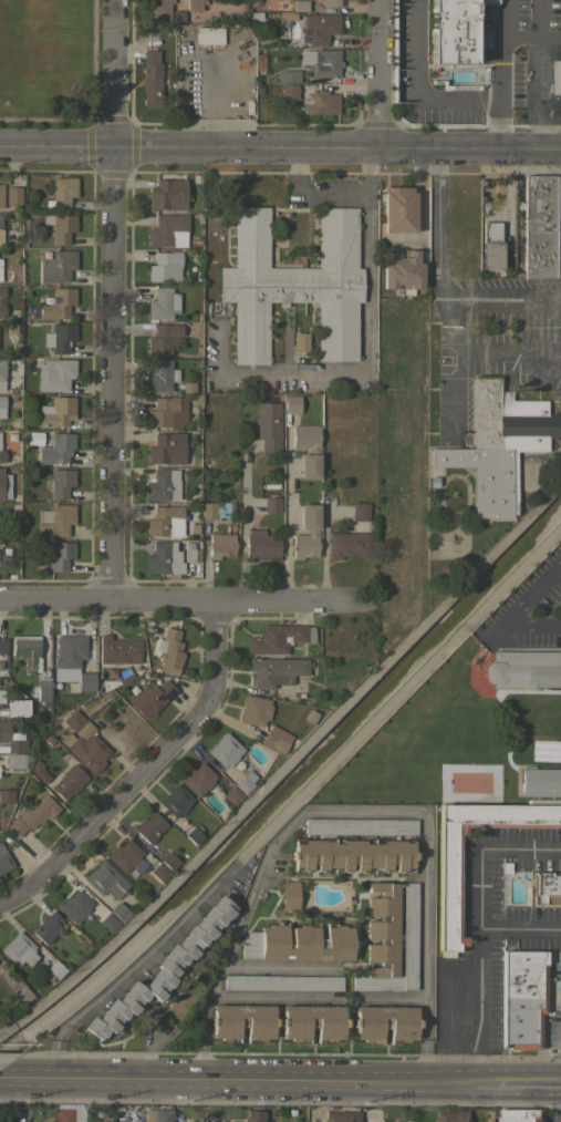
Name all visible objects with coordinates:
building: (332, 2)
building: (194, 6)
building: (159, 9)
building: (292, 11)
building: (256, 18)
building: (320, 28)
building: (449, 32)
road: (530, 37)
building: (486, 56)
building: (320, 62)
building: (288, 75)
road: (376, 75)
road: (499, 75)
building: (554, 75)
building: (150, 78)
building: (444, 86)
road: (417, 89)
building: (289, 91)
road: (530, 94)
building: (320, 102)
road: (546, 121)
road: (280, 151)
road: (313, 189)
building: (61, 193)
building: (167, 194)
building: (0, 195)
building: (12, 195)
building: (398, 209)
road: (495, 214)
building: (541, 226)
building: (60, 227)
building: (168, 230)
building: (0, 231)
building: (516, 236)
building: (490, 245)
building: (56, 266)
building: (165, 267)
building: (402, 269)
road: (437, 282)
building: (294, 284)
building: (2, 291)
road: (110, 300)
building: (55, 303)
building: (162, 303)
building: (1, 310)
road: (367, 336)
building: (59, 337)
building: (164, 338)
building: (300, 341)
road: (517, 354)
building: (1, 373)
building: (54, 373)
building: (160, 375)
building: (291, 404)
building: (1, 406)
building: (58, 410)
building: (167, 412)
building: (268, 425)
building: (497, 444)
building: (56, 449)
building: (168, 449)
building: (307, 449)
building: (2, 455)
building: (60, 483)
building: (4, 485)
building: (162, 485)
building: (271, 504)
building: (208, 508)
building: (56, 521)
building: (165, 521)
road: (242, 521)
road: (284, 527)
building: (305, 534)
building: (351, 534)
building: (261, 544)
building: (220, 545)
building: (56, 555)
building: (191, 555)
building: (163, 558)
road: (181, 601)
road: (517, 607)
building: (279, 638)
building: (2, 646)
building: (27, 650)
building: (118, 650)
building: (168, 650)
building: (67, 652)
building: (522, 669)
building: (276, 670)
building: (1, 671)
building: (85, 681)
building: (42, 690)
building: (149, 697)
building: (17, 707)
building: (254, 710)
building: (77, 723)
building: (11, 738)
building: (276, 739)
building: (469, 745)
building: (542, 748)
building: (225, 750)
building: (85, 751)
building: (17, 760)
building: (39, 771)
road: (145, 771)
building: (197, 779)
building: (69, 781)
building: (245, 782)
building: (540, 782)
building: (232, 794)
building: (7, 796)
building: (175, 801)
building: (32, 813)
building: (149, 826)
building: (360, 826)
building: (194, 834)
road: (273, 840)
building: (124, 855)
building: (352, 855)
building: (4, 859)
building: (168, 861)
building: (158, 872)
building: (105, 879)
building: (448, 885)
road: (481, 888)
building: (546, 888)
building: (289, 895)
building: (73, 906)
building: (117, 912)
building: (107, 922)
building: (48, 927)
building: (388, 938)
building: (299, 943)
road: (424, 945)
building: (18, 949)
road: (128, 965)
road: (278, 968)
building: (53, 969)
building: (160, 969)
building: (282, 982)
building: (21, 994)
road: (316, 996)
building: (521, 997)
road: (479, 1003)
building: (384, 1021)
building: (242, 1022)
building: (312, 1022)
road: (197, 1032)
road: (1, 1074)
road: (6, 1077)
road: (250, 1077)
road: (529, 1081)
building: (69, 1114)
building: (519, 1114)
building: (158, 1115)
building: (254, 1115)
building: (451, 1115)
building: (342, 1116)

